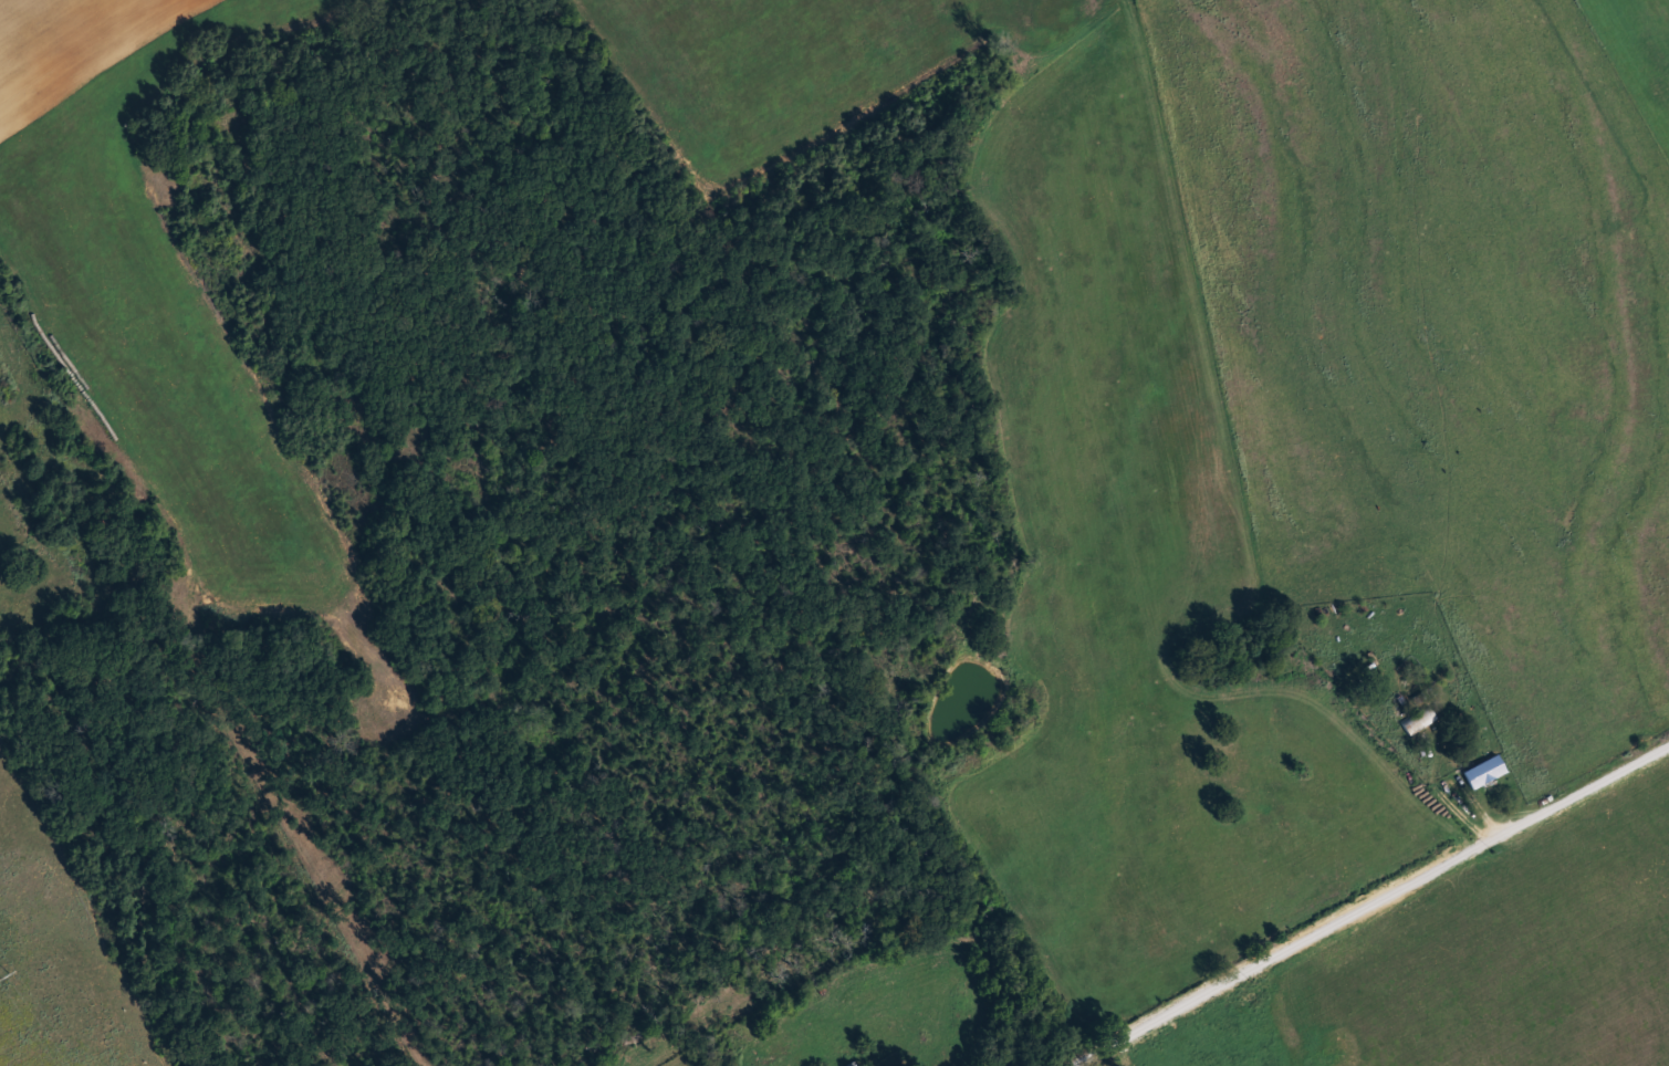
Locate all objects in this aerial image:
building: (1412, 719)
building: (1479, 770)
road: (1362, 899)
power tower: (1, 973)

